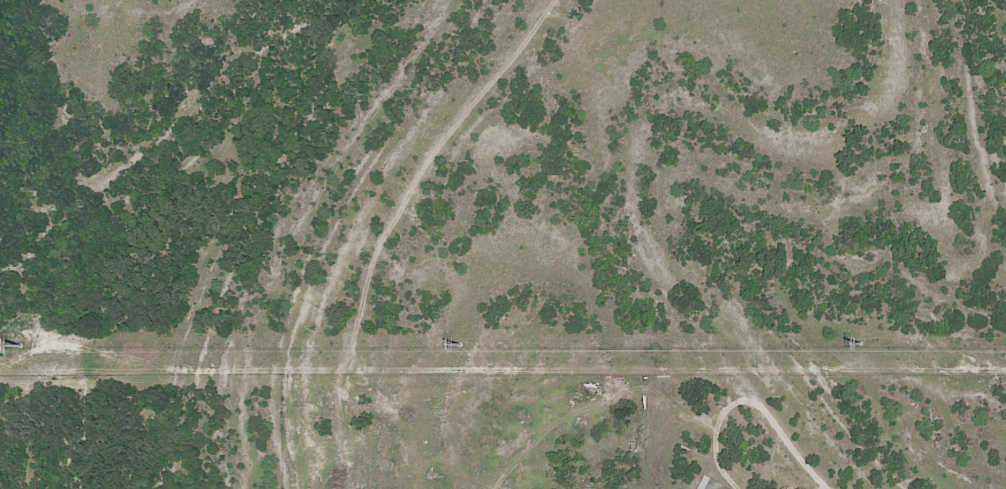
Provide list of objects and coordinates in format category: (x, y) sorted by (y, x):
road: (254, 135)
power tower: (862, 340)
power tower: (462, 342)
power tower: (20, 344)
road: (750, 402)

